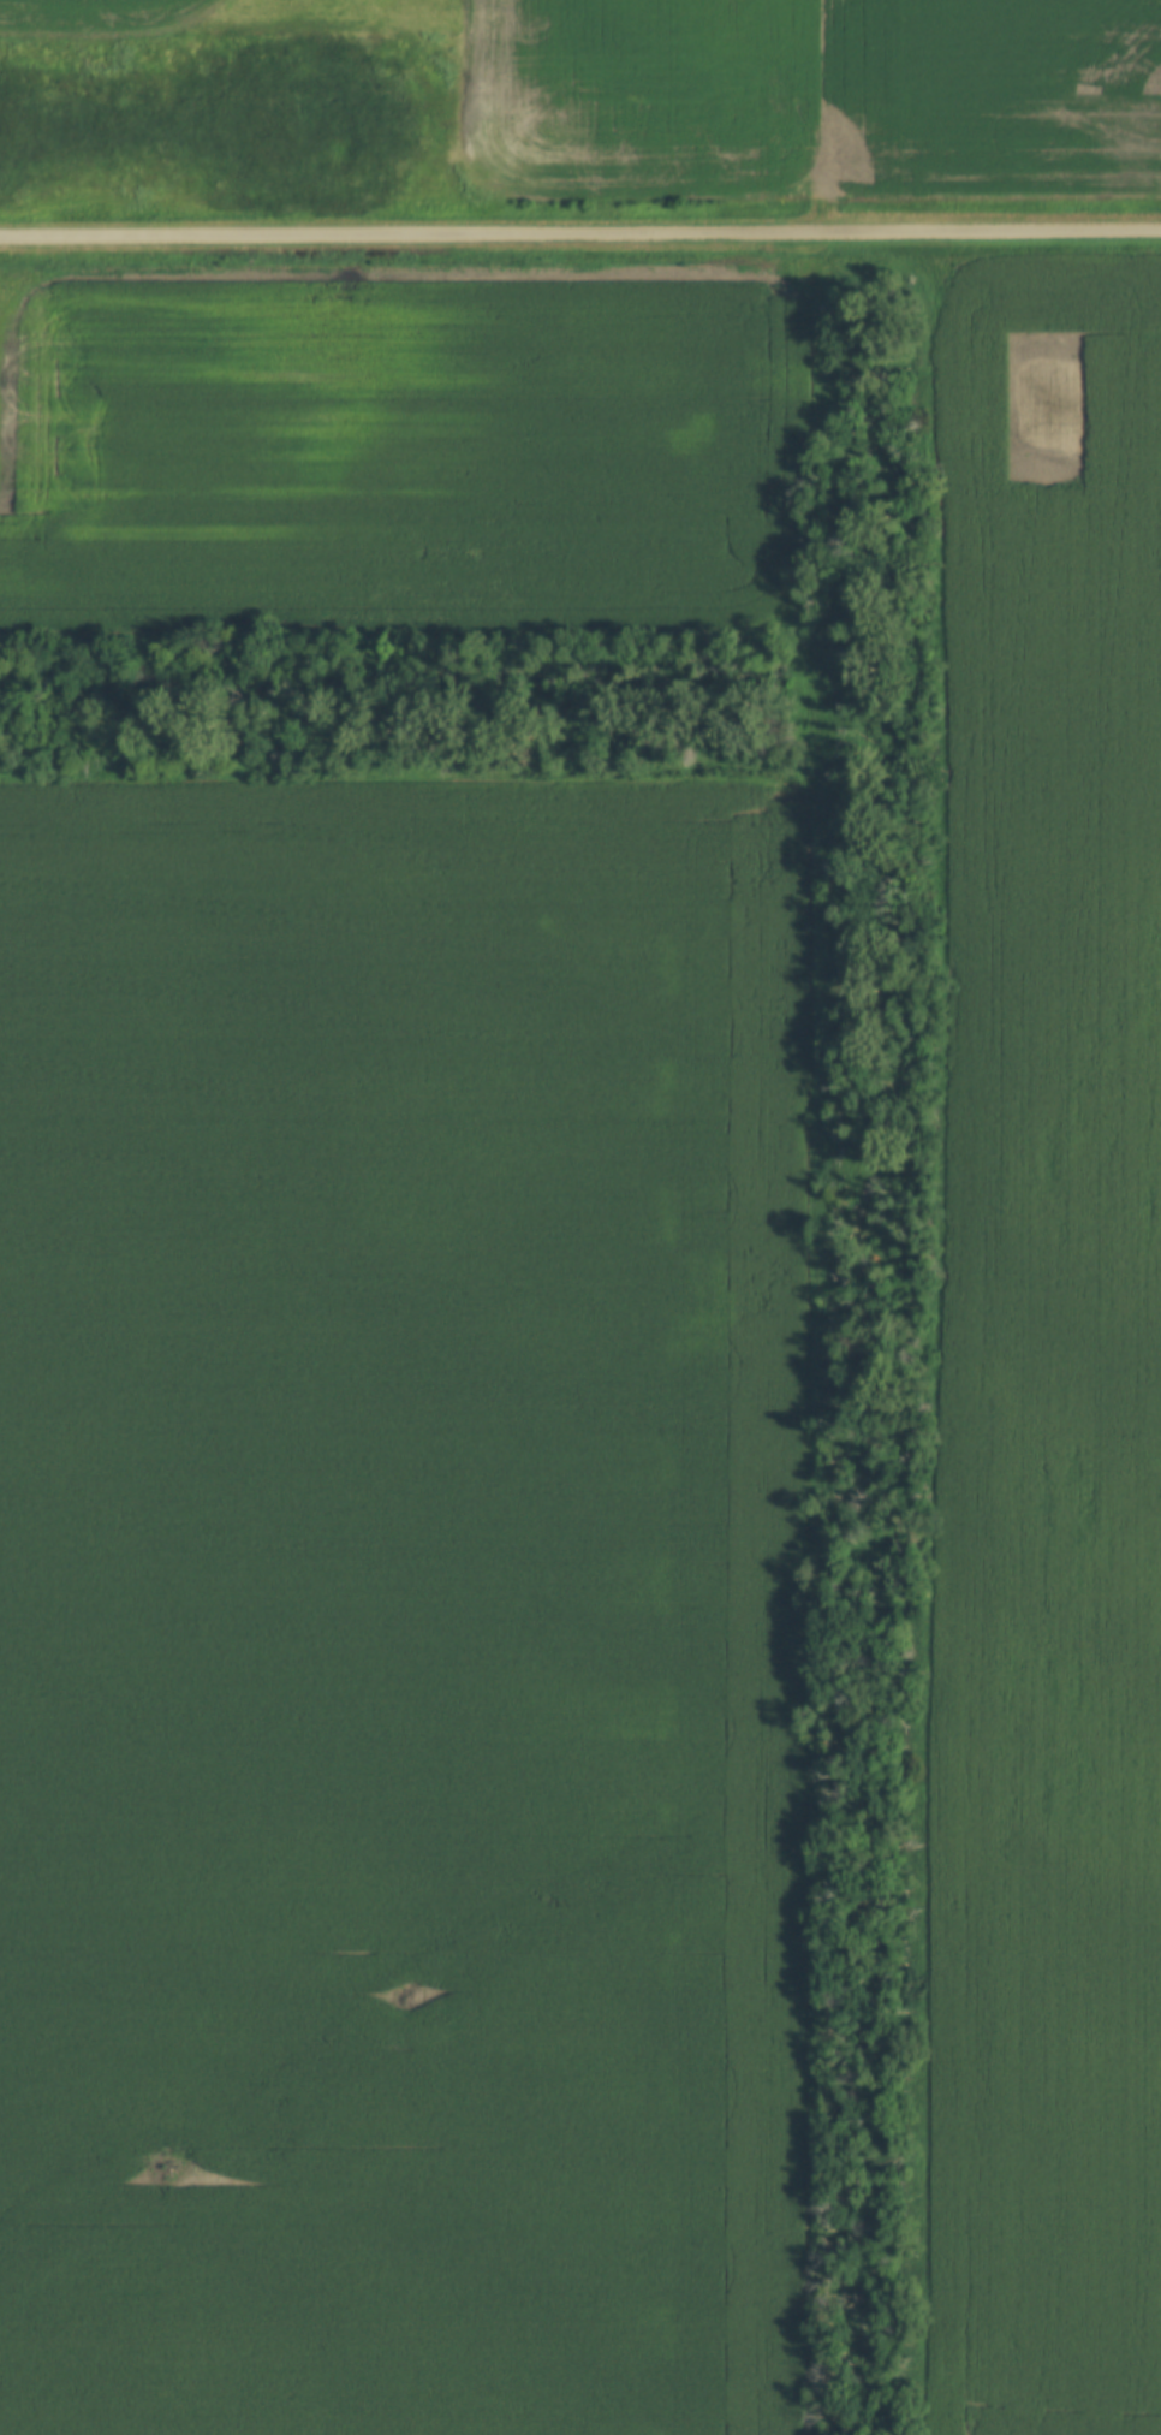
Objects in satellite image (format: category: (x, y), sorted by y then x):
crop: (751, 91)
road: (579, 232)
crop: (399, 446)
road: (834, 689)
crop: (1046, 1364)
crop: (406, 1580)

